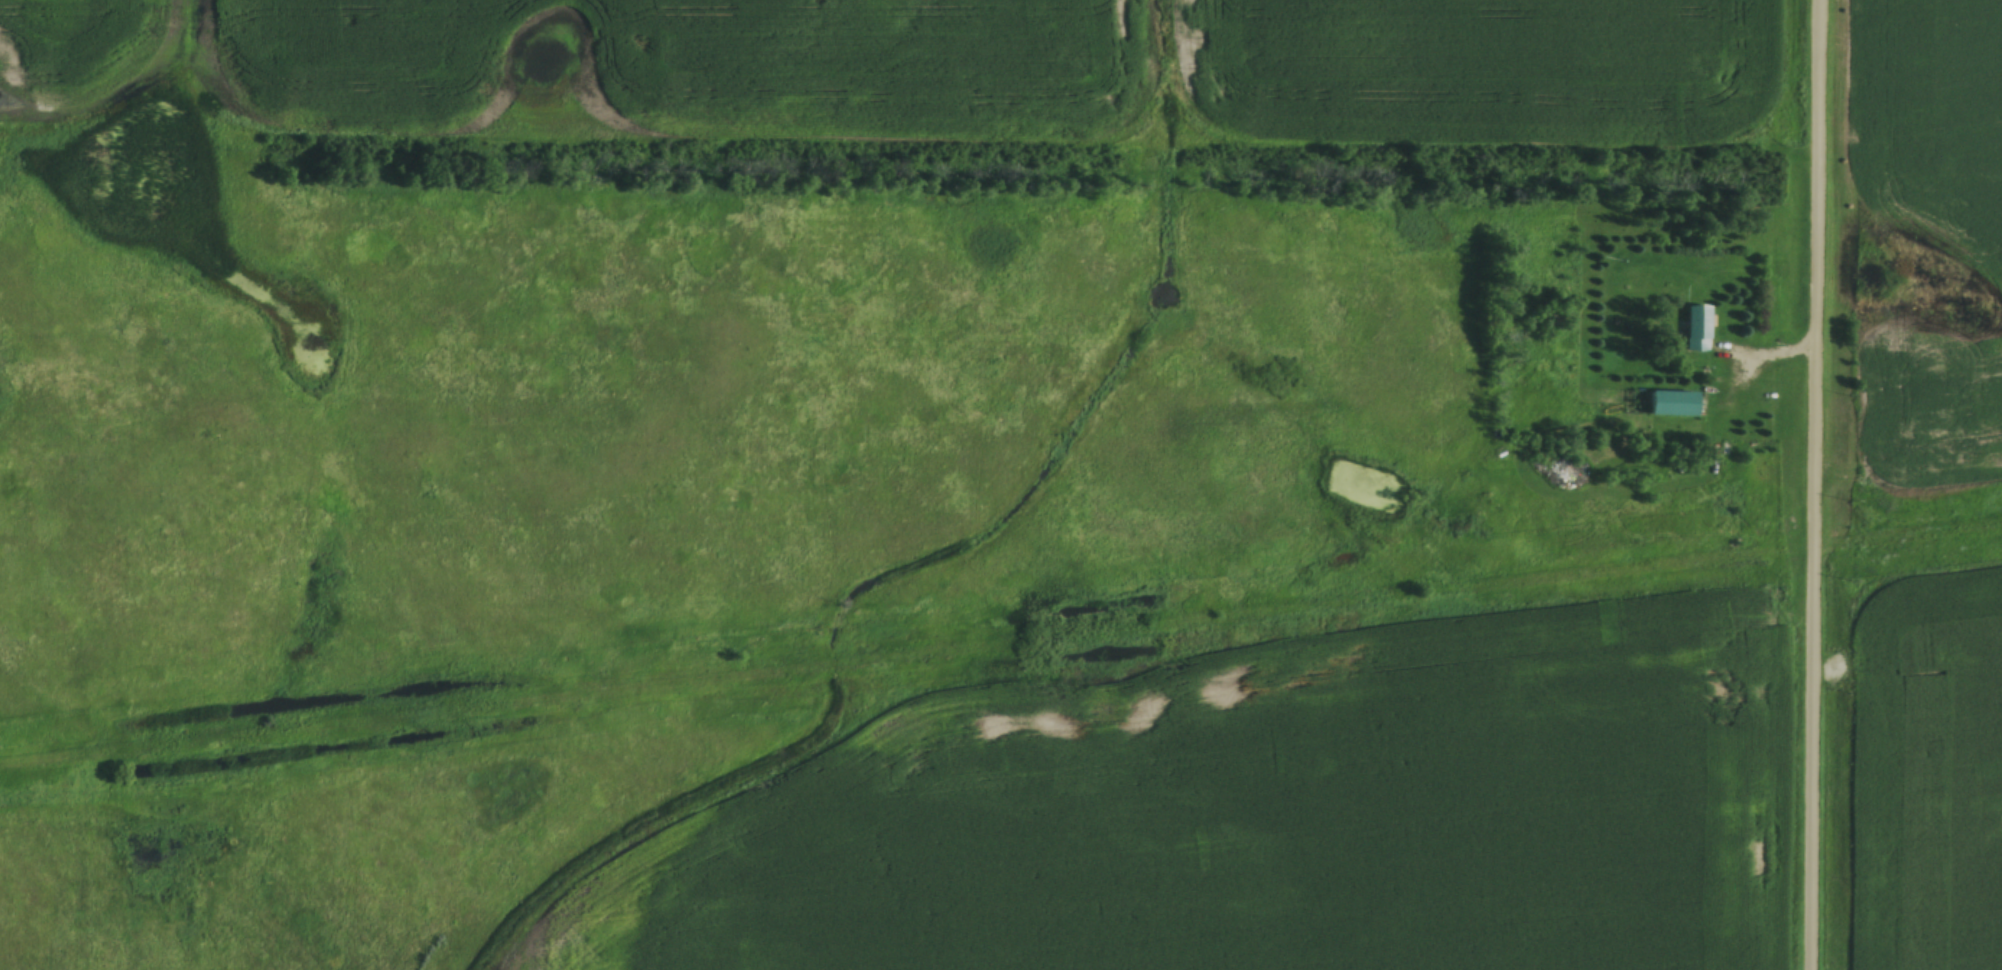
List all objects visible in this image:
building: (1694, 326)
building: (1669, 401)
road: (1816, 485)

